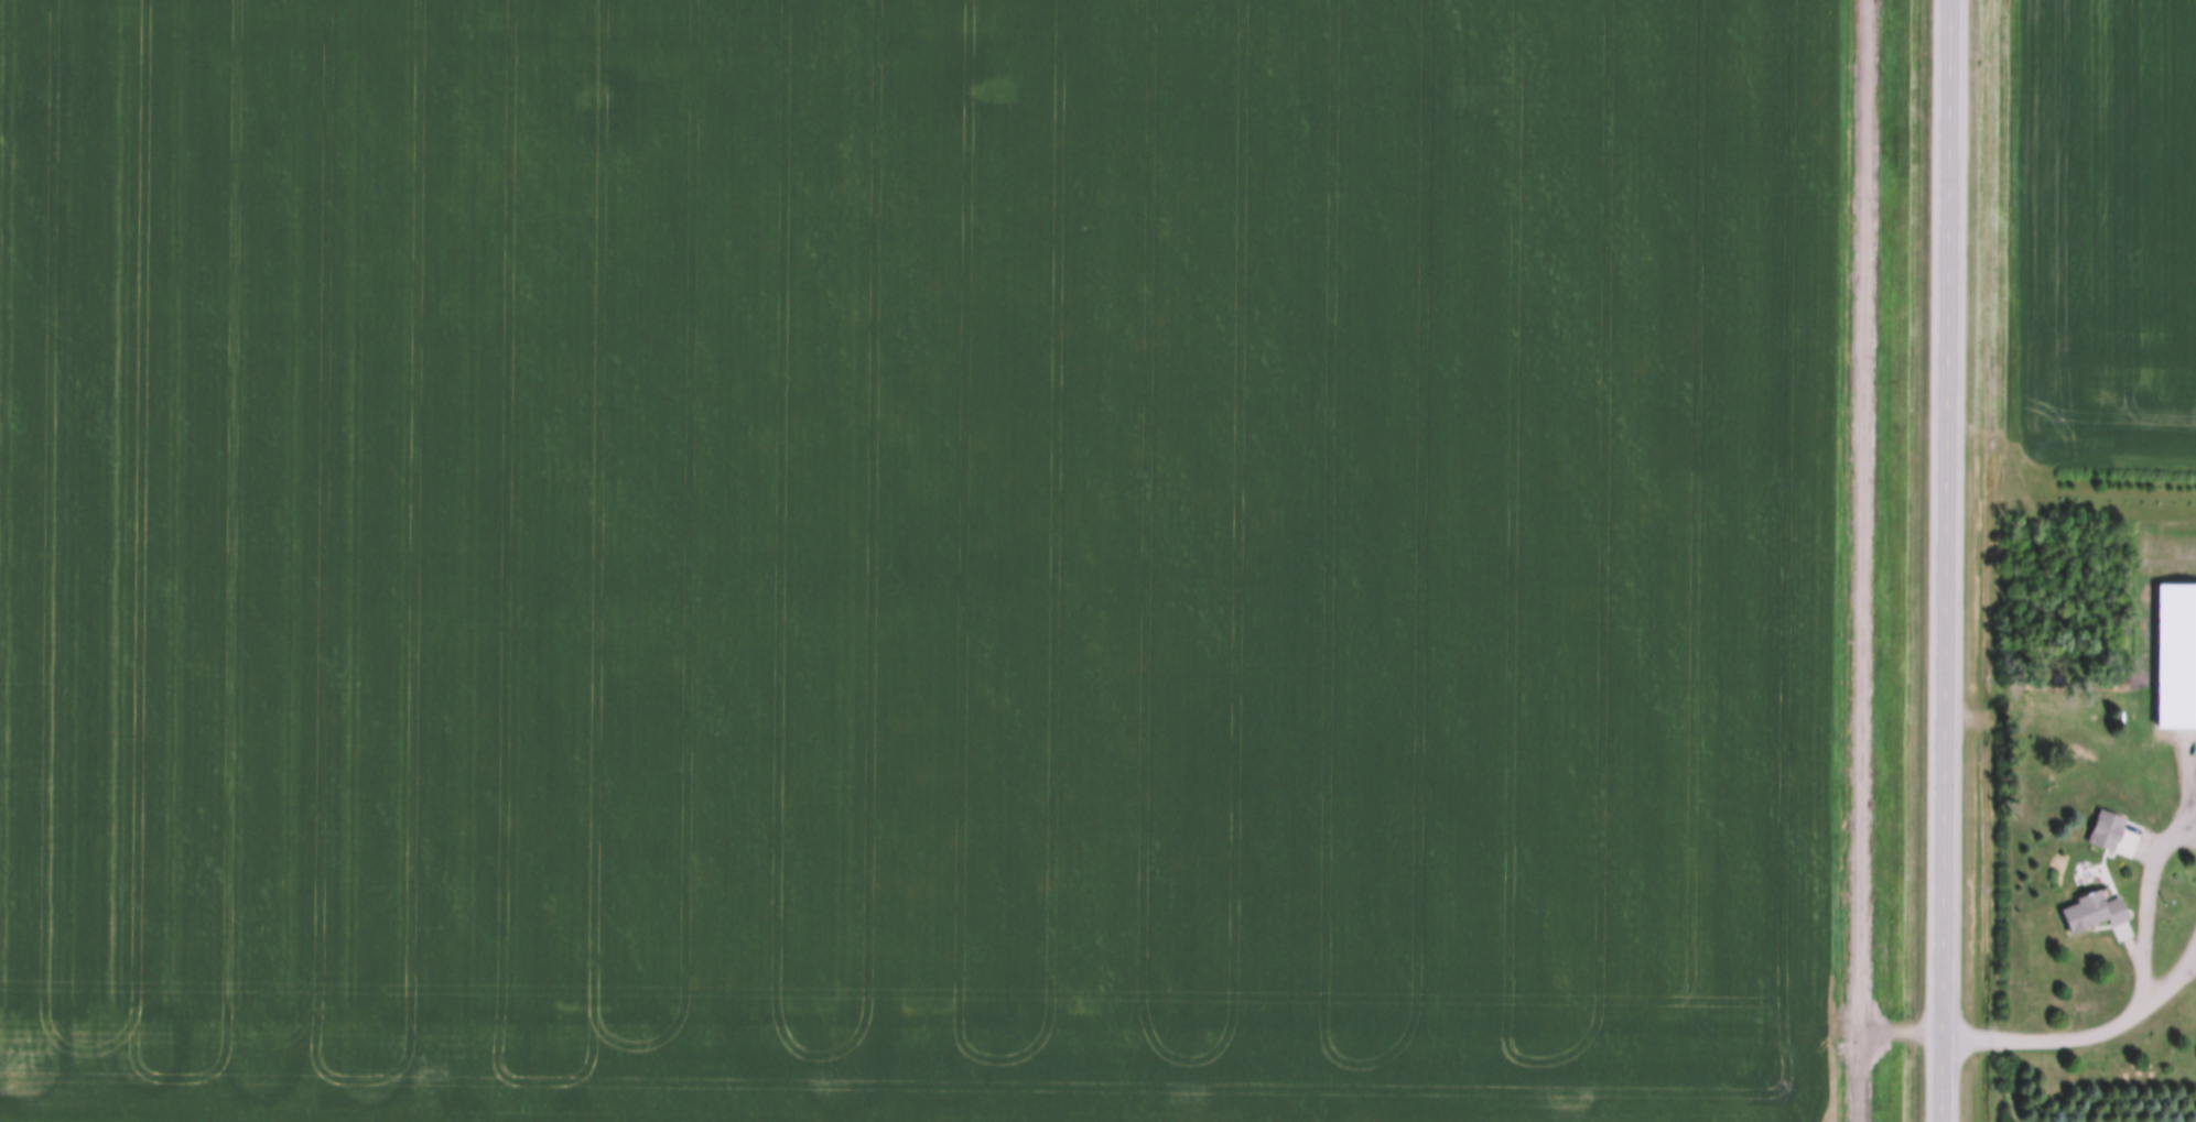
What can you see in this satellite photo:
railway: (1858, 560)
road: (1941, 560)
building: (2174, 657)
building: (2088, 912)
road: (1870, 1031)

